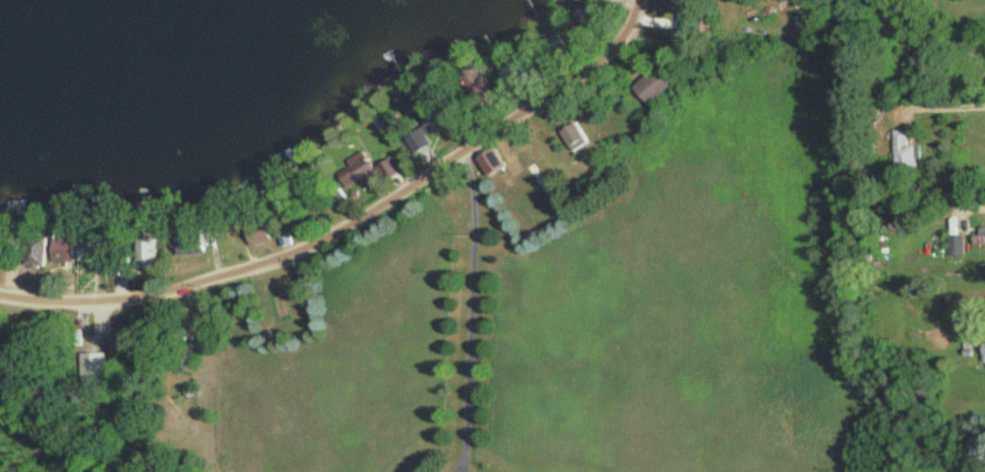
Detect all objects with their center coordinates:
building: (659, 84)
road: (941, 106)
building: (578, 137)
building: (493, 158)
building: (366, 171)
road: (969, 206)
road: (355, 223)
building: (980, 238)
building: (286, 239)
building: (193, 244)
building: (958, 246)
building: (150, 249)
building: (2, 252)
building: (93, 253)
building: (63, 254)
road: (469, 303)
building: (984, 352)
road: (462, 463)
road: (457, 464)

